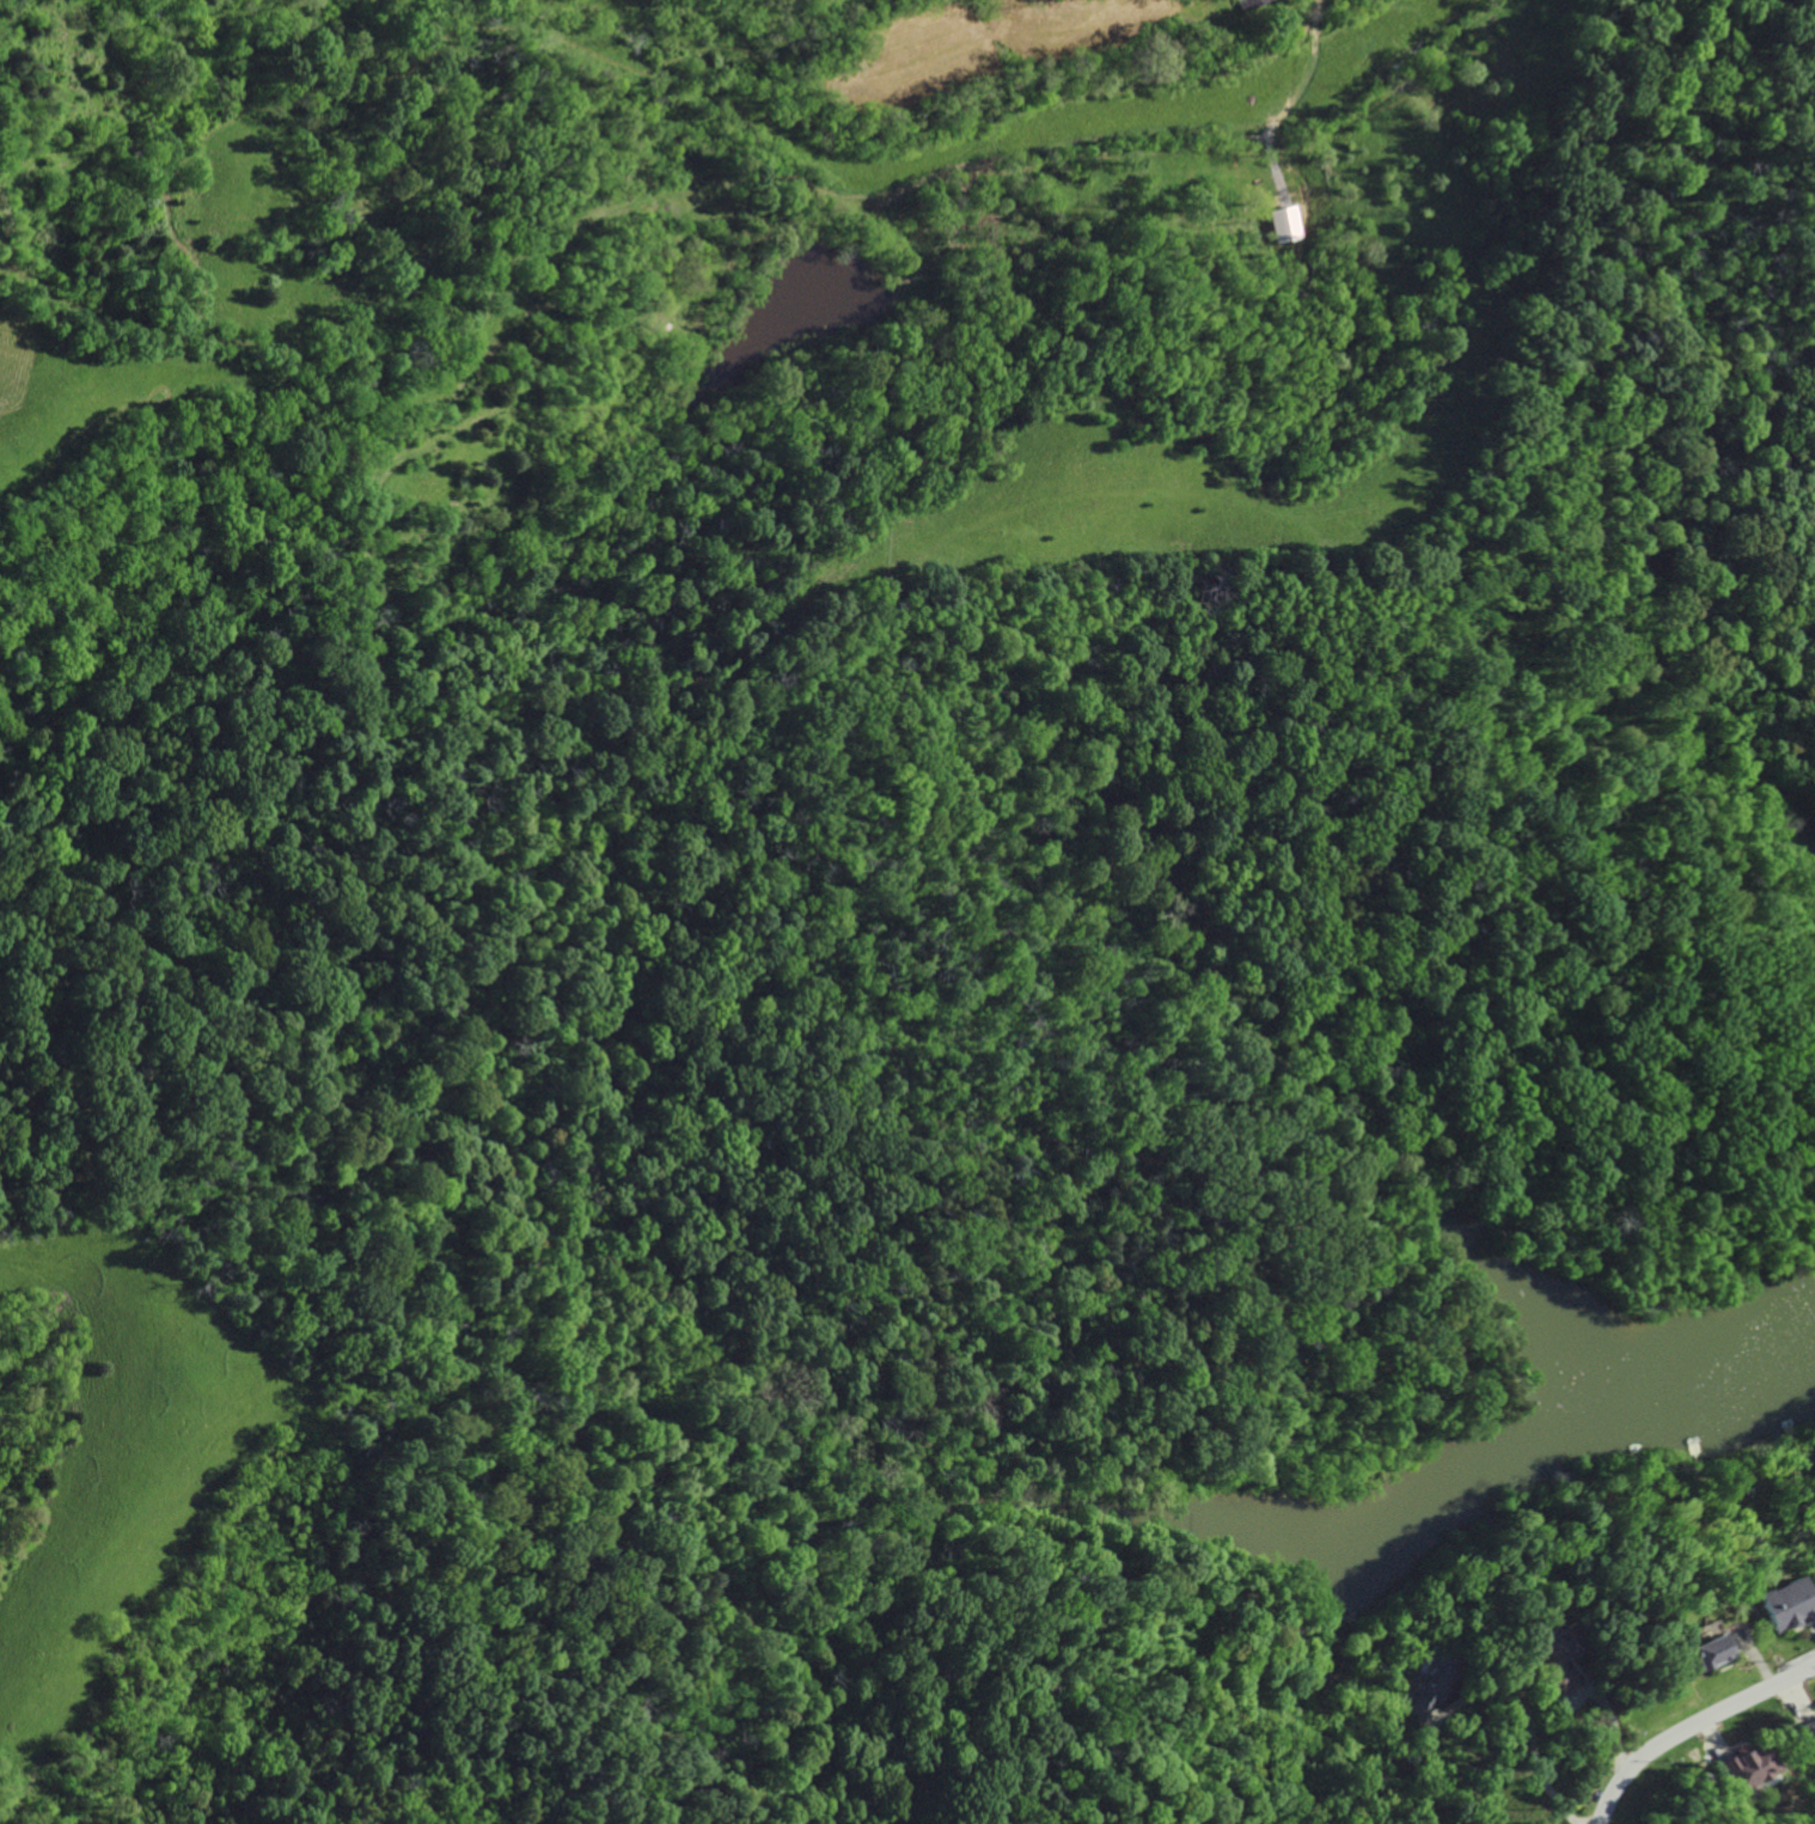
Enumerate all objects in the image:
building: (1251, 4)
building: (1283, 225)
building: (1785, 1605)
building: (1705, 1652)
building: (1551, 1664)
building: (1424, 1692)
road: (1529, 1722)
road: (1688, 1724)
building: (1807, 1738)
building: (1740, 1768)

